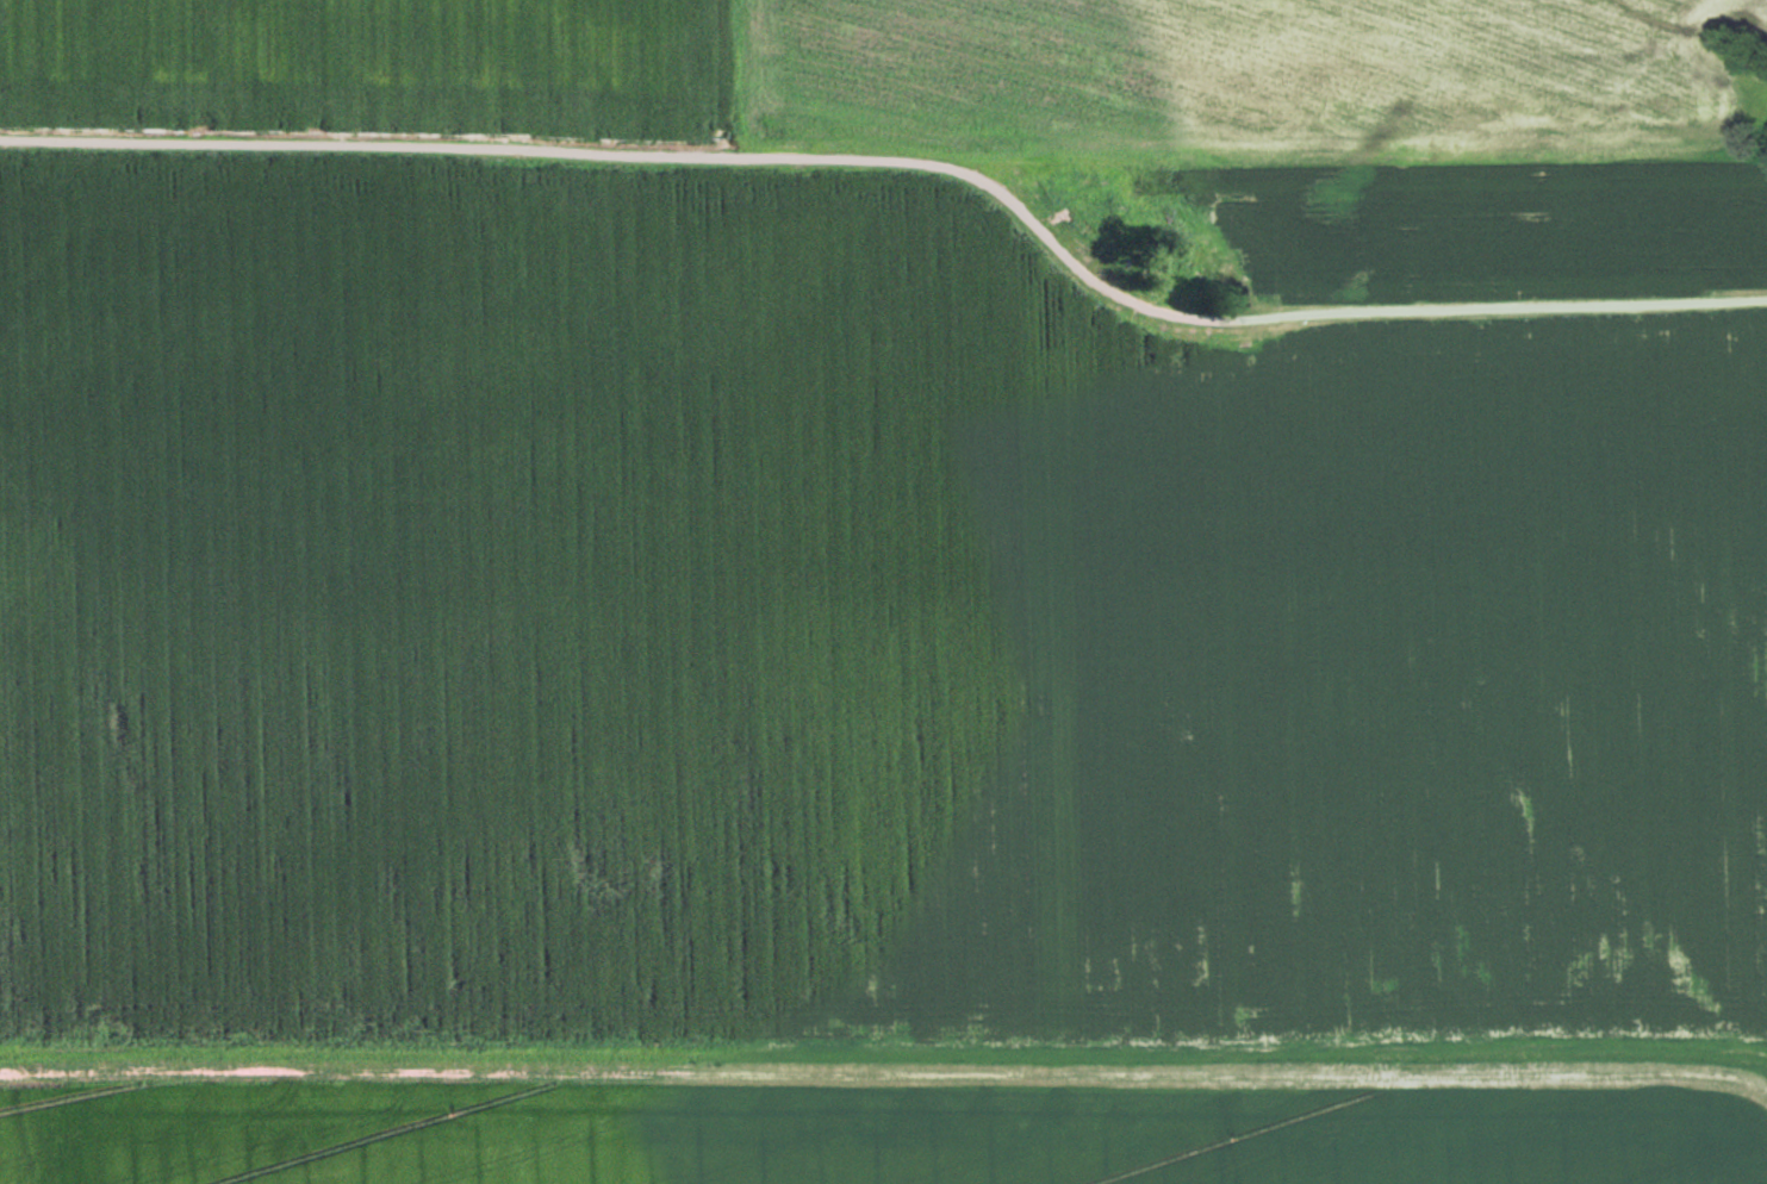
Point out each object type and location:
road: (912, 151)

